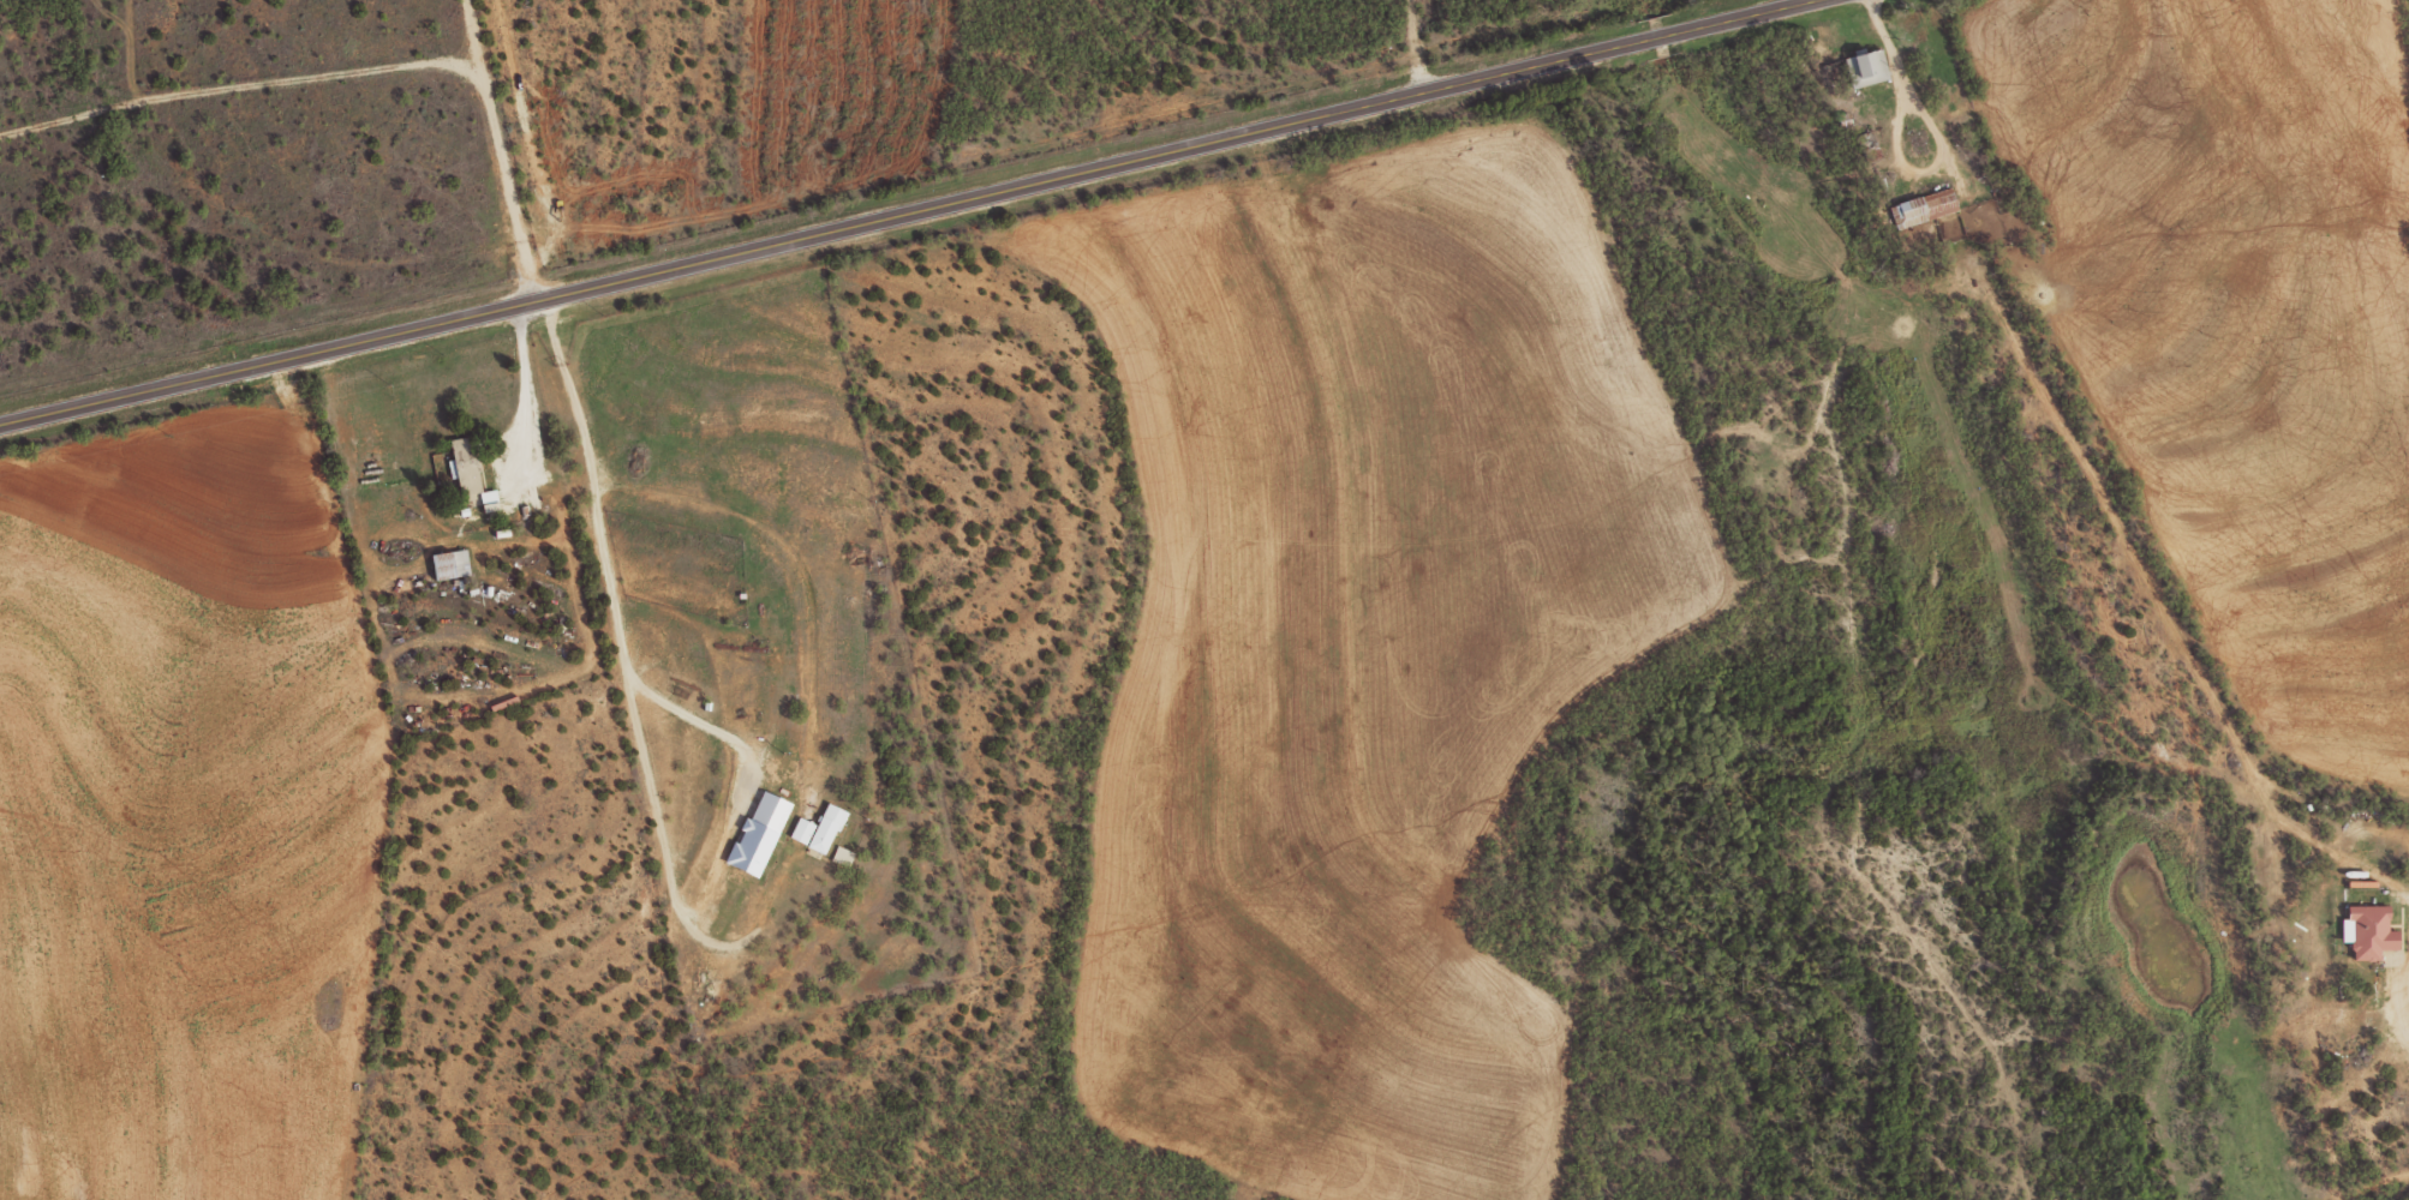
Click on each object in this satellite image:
building: (1866, 67)
building: (1924, 208)
road: (904, 210)
road: (522, 386)
building: (465, 464)
building: (490, 500)
building: (450, 564)
building: (826, 827)
building: (802, 829)
building: (759, 833)
building: (842, 856)
building: (2372, 930)

